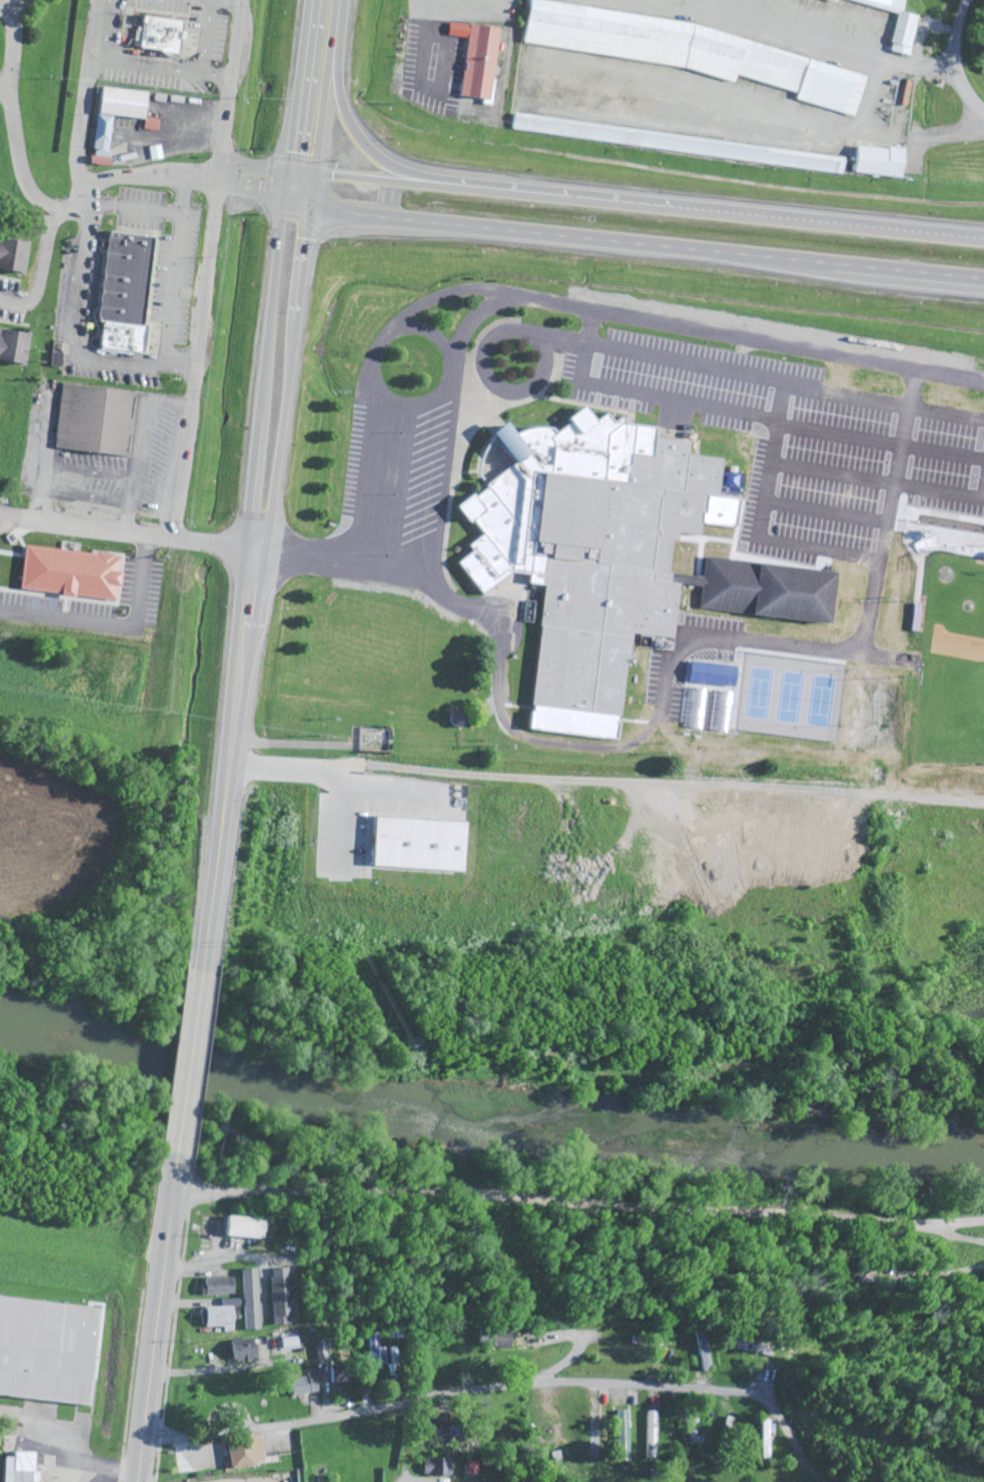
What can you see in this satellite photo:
building: (832, 0)
road: (225, 2)
building: (894, 24)
building: (160, 33)
building: (573, 34)
road: (206, 37)
road: (424, 41)
road: (853, 41)
road: (955, 58)
road: (98, 59)
building: (476, 60)
road: (137, 65)
building: (770, 71)
road: (303, 85)
road: (229, 86)
road: (328, 87)
road: (85, 99)
road: (10, 114)
road: (132, 120)
building: (103, 137)
road: (373, 144)
building: (813, 162)
building: (875, 162)
road: (252, 166)
traffic signals: (288, 170)
traffic signals: (317, 175)
road: (144, 176)
road: (285, 186)
road: (249, 190)
road: (316, 191)
road: (31, 193)
traffic signals: (283, 203)
road: (635, 203)
traffic signals: (315, 208)
road: (134, 209)
parking lot: (141, 209)
road: (633, 245)
building: (127, 252)
building: (12, 253)
road: (40, 270)
parking lot: (173, 273)
parking lot: (75, 289)
road: (444, 294)
road: (517, 295)
building: (121, 298)
building: (121, 338)
building: (13, 345)
road: (180, 357)
road: (373, 357)
road: (196, 358)
road: (681, 361)
road: (134, 365)
parking lot: (110, 369)
road: (264, 378)
road: (292, 383)
road: (492, 384)
parking lot: (708, 387)
road: (705, 405)
building: (92, 418)
building: (938, 420)
building: (963, 426)
building: (980, 432)
road: (355, 462)
parking lot: (396, 482)
park: (941, 486)
park: (971, 491)
road: (752, 499)
road: (128, 535)
building: (586, 551)
building: (928, 552)
building: (982, 554)
building: (904, 568)
building: (66, 574)
building: (764, 589)
building: (914, 616)
park: (951, 662)
building: (455, 719)
road: (549, 742)
road: (227, 758)
road: (321, 777)
building: (413, 846)
road: (189, 1056)
river: (487, 1107)
road: (578, 1200)
building: (239, 1228)
building: (217, 1287)
road: (287, 1288)
road: (446, 1294)
building: (280, 1297)
building: (248, 1300)
road: (158, 1315)
building: (218, 1319)
building: (490, 1339)
building: (47, 1350)
building: (241, 1351)
building: (702, 1351)
building: (380, 1354)
building: (341, 1375)
building: (302, 1385)
road: (477, 1390)
building: (651, 1435)
building: (766, 1435)
building: (623, 1437)
building: (242, 1451)
road: (62, 1455)
road: (810, 1460)
building: (17, 1468)
building: (436, 1468)
building: (472, 1469)
road: (104, 1474)

